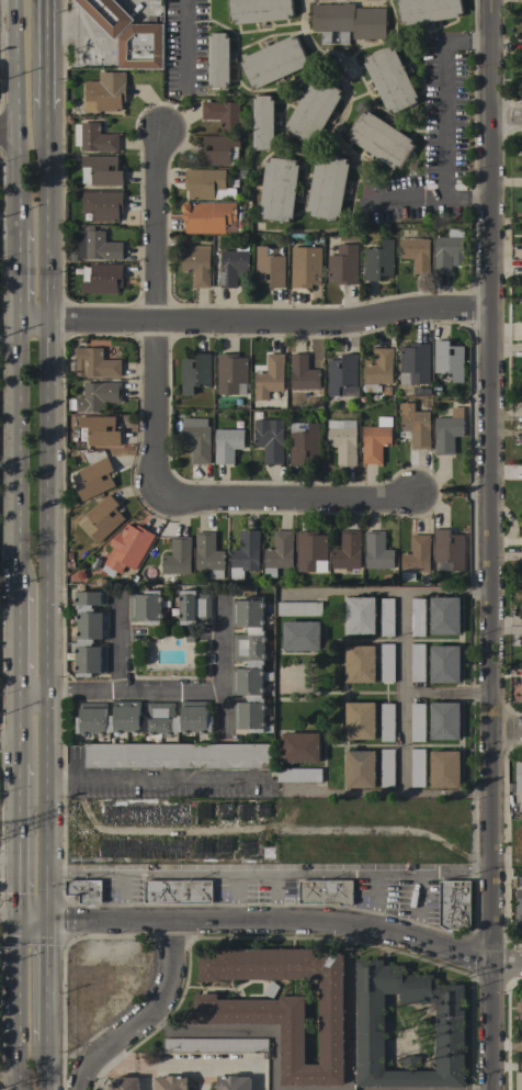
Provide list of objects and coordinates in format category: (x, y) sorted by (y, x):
road: (98, 8)
building: (259, 10)
building: (427, 10)
building: (106, 15)
building: (348, 22)
road: (69, 25)
building: (521, 32)
road: (189, 38)
building: (140, 46)
road: (48, 55)
building: (218, 59)
building: (273, 61)
building: (521, 75)
building: (389, 79)
building: (106, 90)
building: (311, 111)
road: (15, 114)
building: (223, 114)
road: (502, 121)
building: (262, 122)
road: (8, 134)
building: (93, 137)
road: (444, 138)
building: (379, 139)
building: (218, 150)
building: (521, 165)
building: (100, 170)
building: (204, 183)
building: (327, 187)
building: (277, 189)
road: (464, 194)
building: (521, 200)
building: (102, 205)
building: (209, 218)
building: (521, 243)
building: (95, 245)
building: (446, 250)
building: (416, 254)
building: (377, 261)
building: (196, 263)
building: (342, 265)
building: (231, 267)
building: (305, 267)
building: (269, 268)
building: (520, 276)
road: (14, 277)
building: (100, 278)
road: (151, 315)
building: (521, 318)
road: (248, 323)
building: (521, 347)
building: (447, 359)
building: (94, 363)
building: (413, 364)
road: (481, 366)
building: (377, 369)
building: (194, 372)
building: (230, 373)
building: (302, 373)
building: (341, 373)
building: (269, 377)
building: (93, 396)
building: (521, 402)
building: (416, 426)
building: (99, 430)
building: (446, 431)
building: (196, 439)
building: (269, 440)
building: (342, 440)
building: (375, 440)
building: (303, 441)
building: (226, 445)
road: (14, 457)
building: (94, 479)
building: (521, 488)
road: (281, 498)
road: (48, 514)
building: (101, 518)
building: (521, 533)
building: (125, 550)
building: (347, 551)
building: (376, 551)
building: (447, 551)
building: (310, 552)
building: (277, 553)
building: (207, 554)
building: (245, 554)
building: (415, 558)
building: (175, 560)
road: (386, 594)
building: (521, 604)
building: (145, 607)
building: (193, 607)
building: (298, 608)
building: (359, 615)
building: (444, 616)
building: (386, 617)
building: (417, 617)
building: (89, 633)
building: (300, 636)
road: (14, 640)
road: (116, 644)
building: (521, 647)
building: (386, 663)
building: (417, 663)
building: (359, 664)
building: (444, 664)
road: (218, 666)
building: (249, 666)
road: (116, 690)
building: (521, 690)
road: (443, 696)
building: (143, 718)
building: (359, 720)
building: (444, 721)
building: (386, 722)
building: (417, 722)
road: (14, 727)
road: (504, 730)
road: (400, 734)
road: (7, 741)
building: (299, 748)
building: (177, 755)
building: (386, 767)
building: (417, 767)
building: (359, 769)
building: (444, 769)
building: (298, 775)
road: (155, 778)
building: (519, 778)
road: (270, 831)
road: (13, 840)
road: (7, 859)
road: (83, 872)
road: (198, 873)
road: (395, 873)
road: (421, 873)
road: (351, 874)
road: (274, 877)
building: (84, 890)
building: (178, 891)
building: (325, 891)
road: (121, 896)
building: (454, 904)
road: (484, 910)
building: (519, 910)
traffic signals: (13, 919)
traffic signals: (47, 919)
road: (269, 921)
road: (47, 979)
building: (270, 989)
road: (13, 998)
building: (280, 1004)
building: (519, 1007)
road: (140, 1013)
building: (450, 1030)
building: (519, 1044)
building: (214, 1045)
road: (110, 1060)
road: (48, 1065)
road: (206, 1066)
road: (7, 1078)
building: (519, 1081)
building: (170, 1082)
building: (232, 1082)
road: (13, 1083)
building: (124, 1083)
road: (295, 1089)

